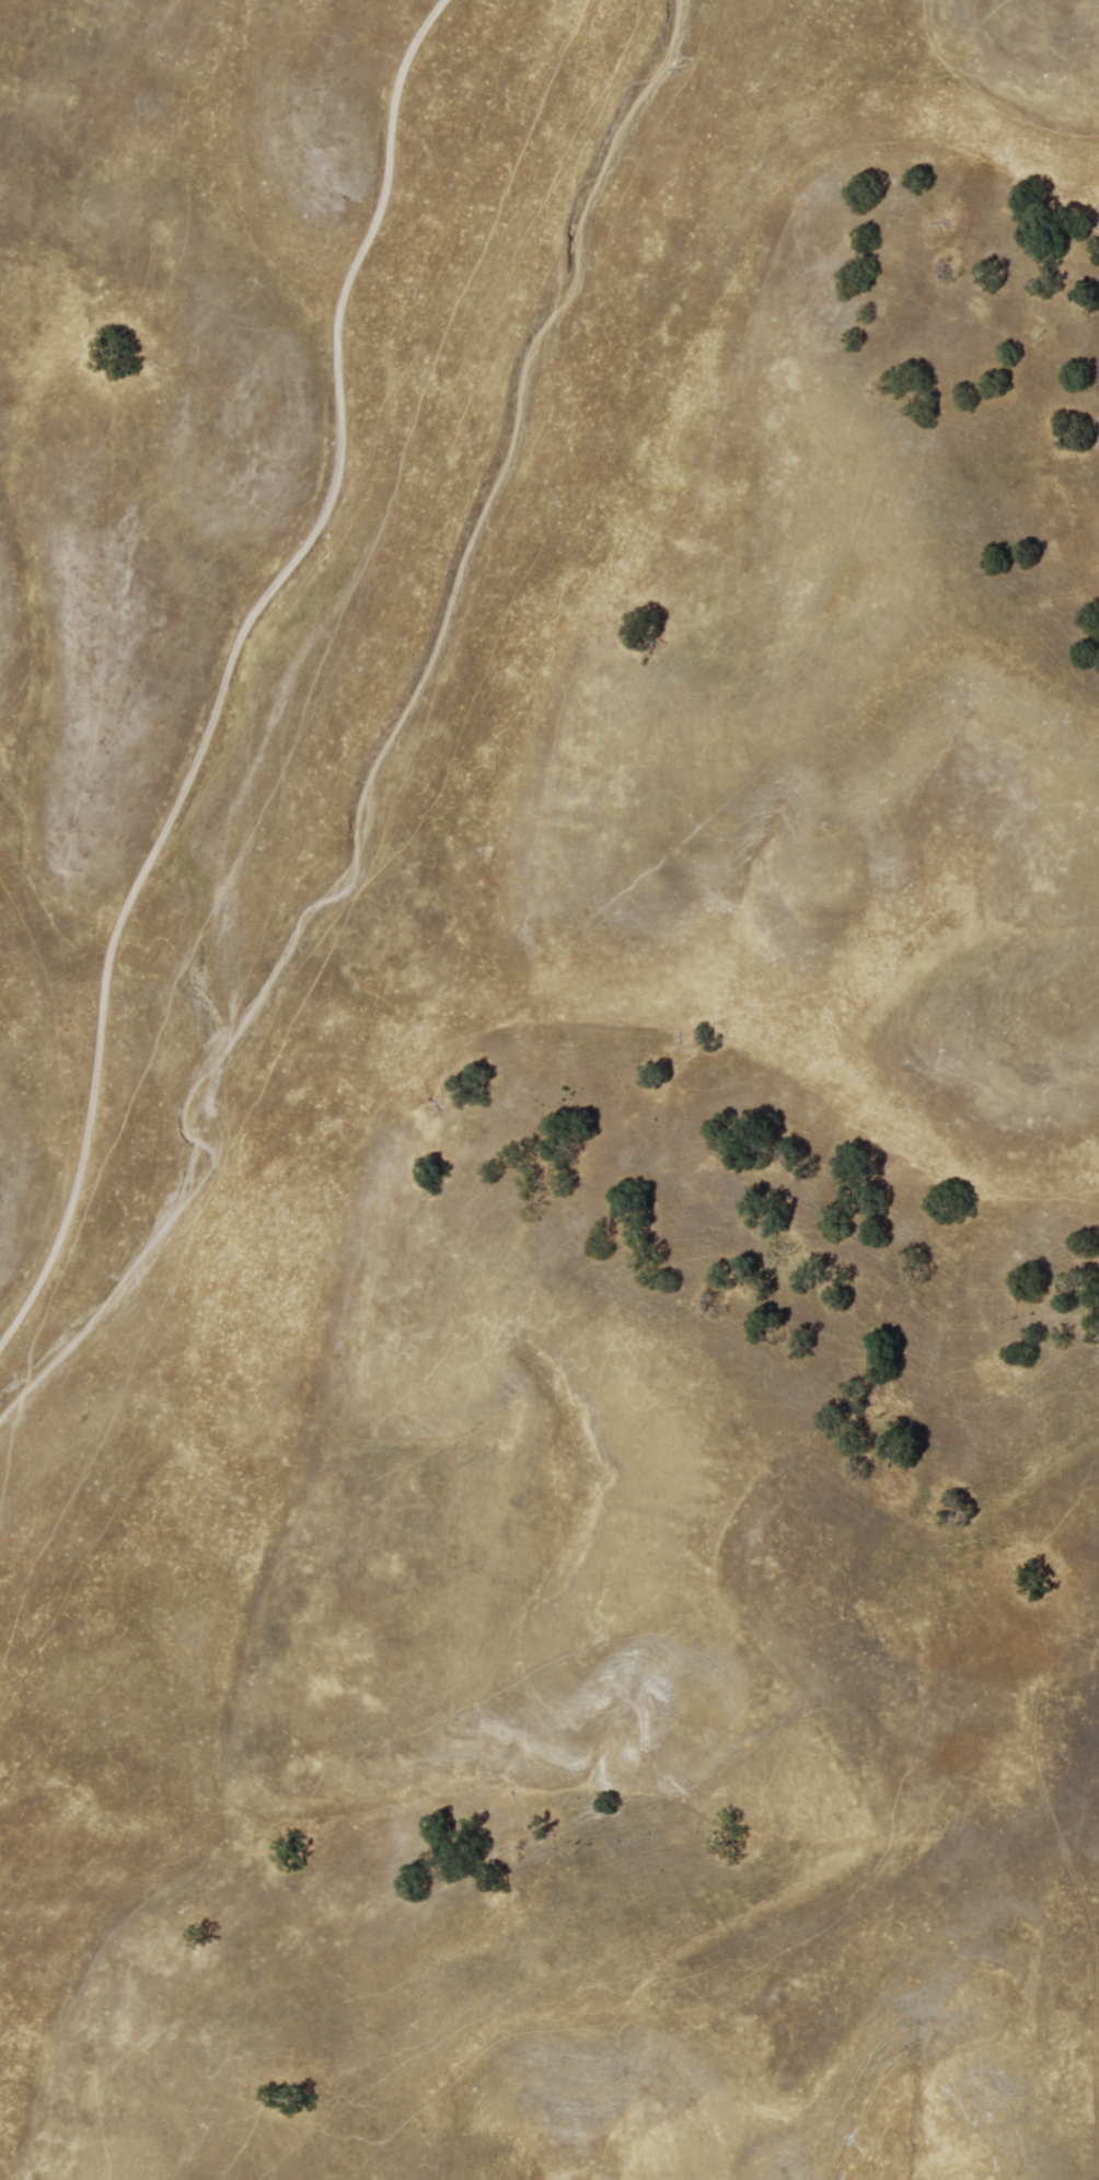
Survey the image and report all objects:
road: (223, 662)

